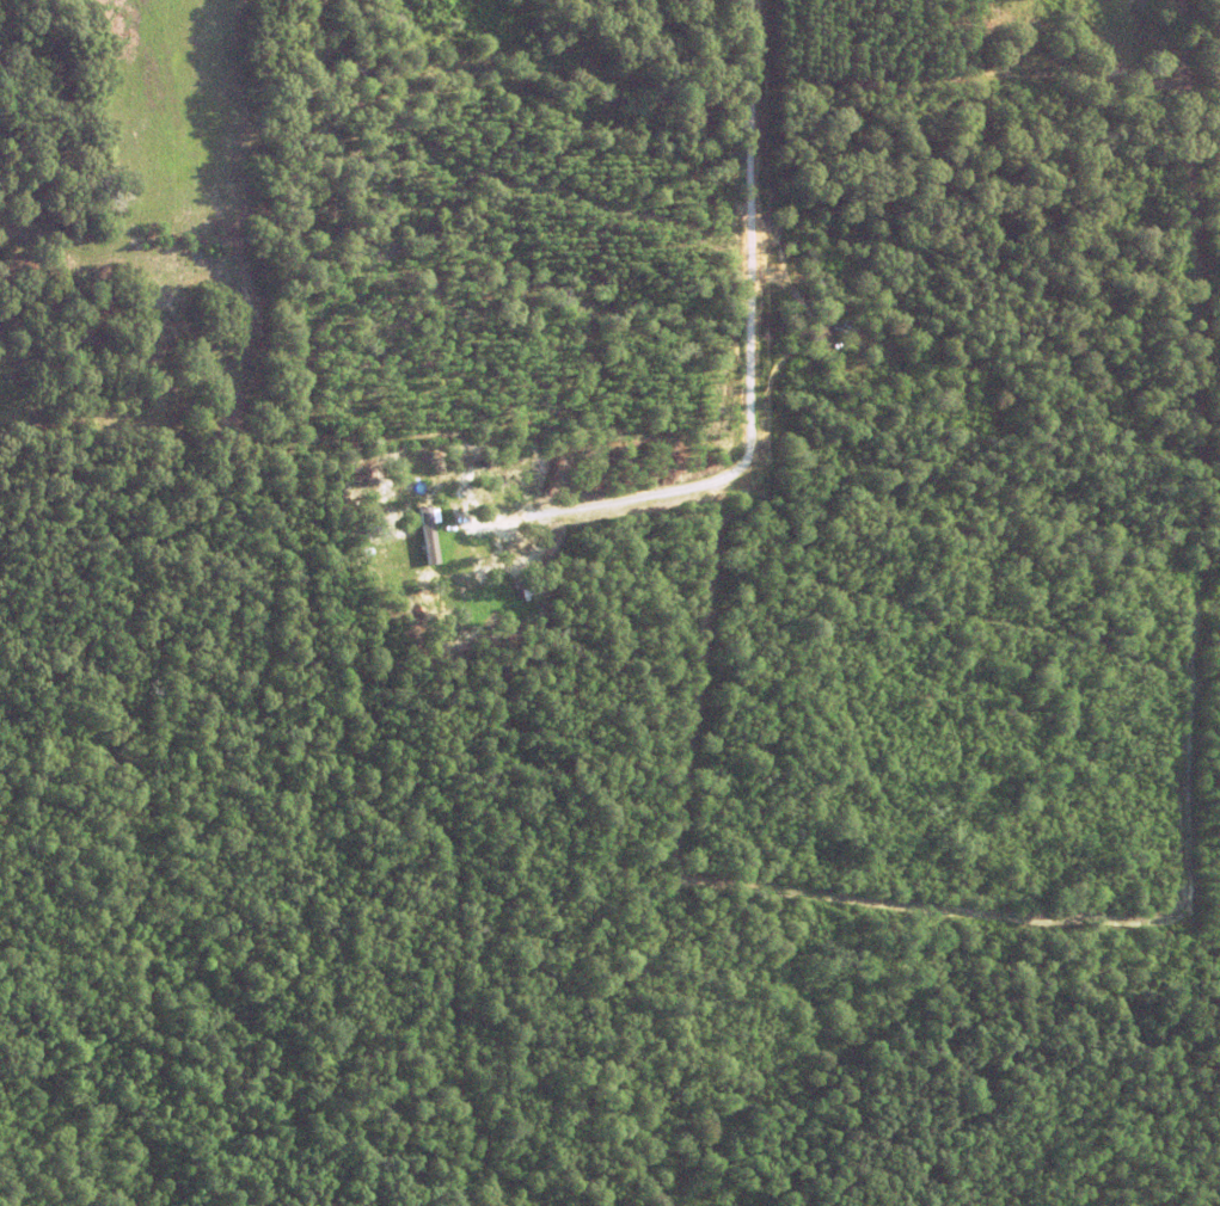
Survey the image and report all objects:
building: (429, 533)

